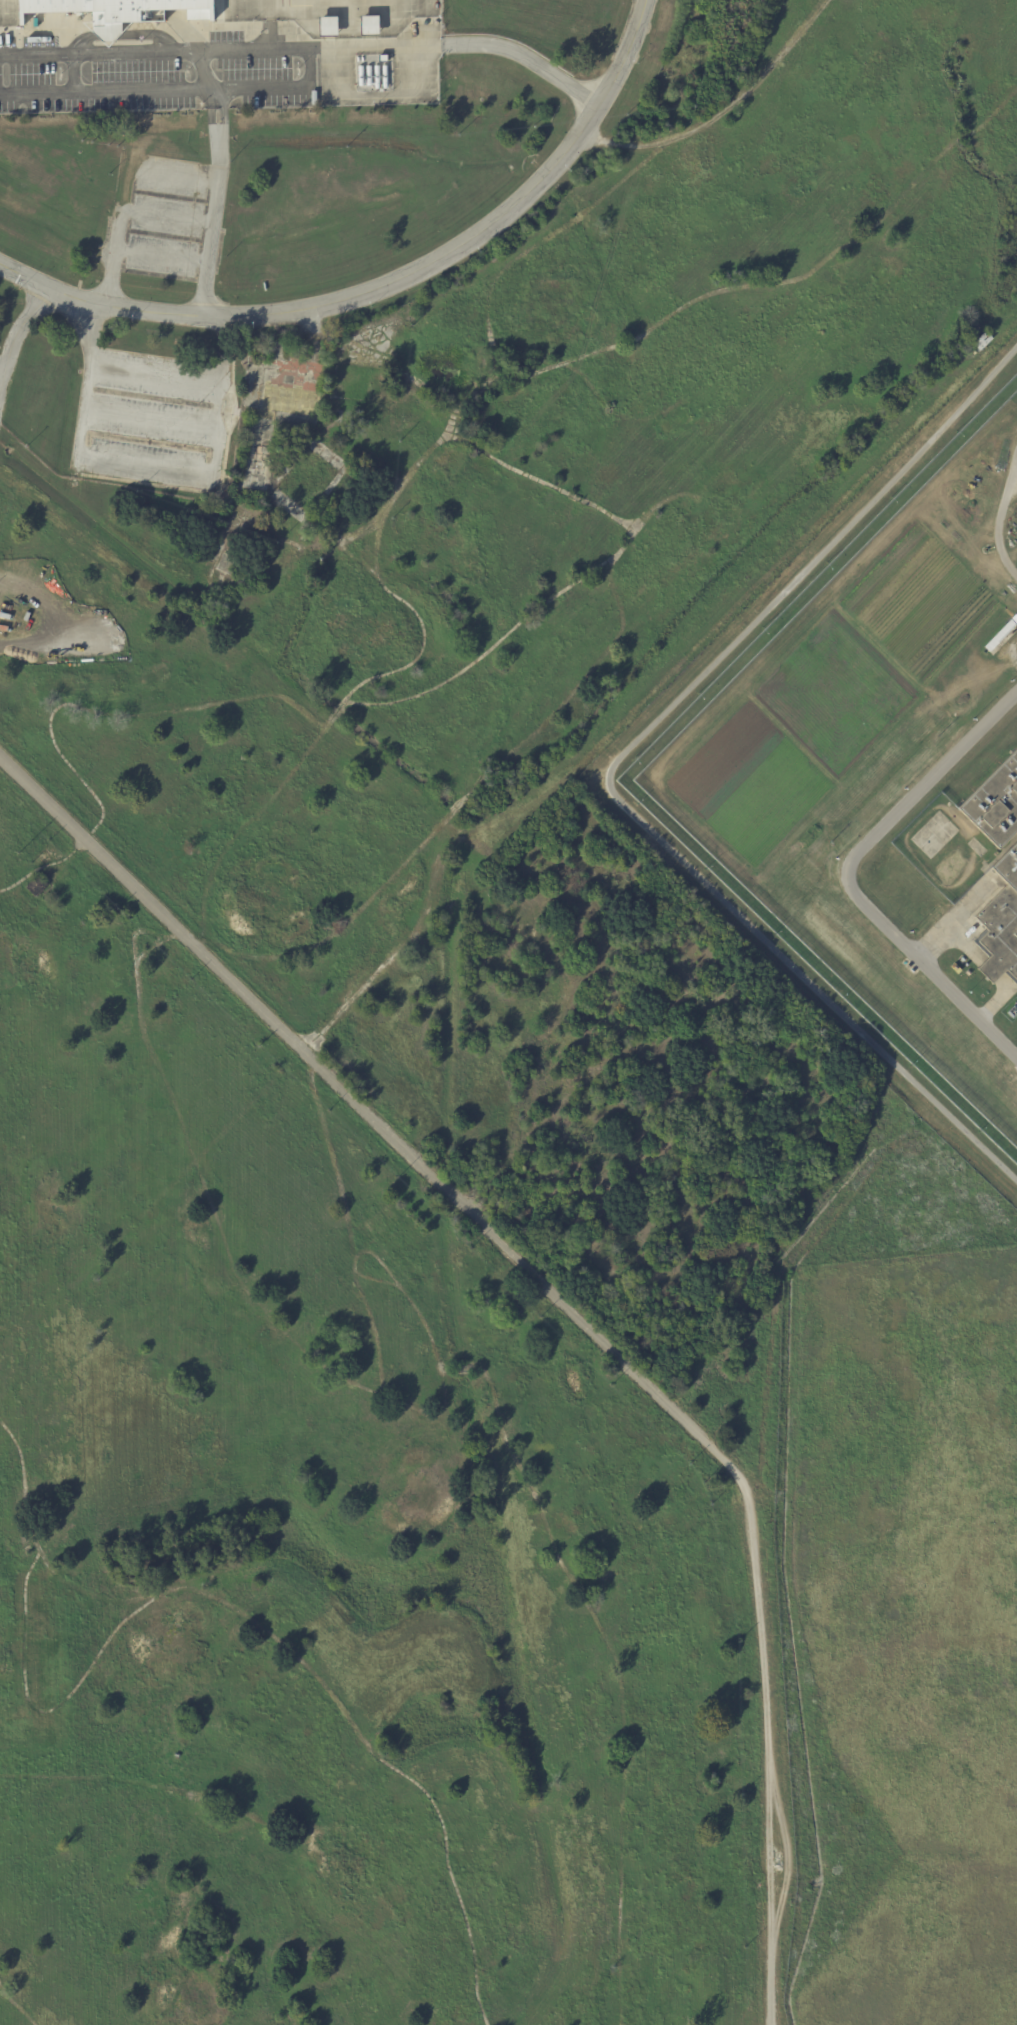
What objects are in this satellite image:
airport apron: (263, 10)
building: (116, 11)
airport apron: (7, 13)
building: (367, 26)
building: (325, 27)
road: (459, 47)
road: (99, 52)
road: (308, 59)
building: (381, 59)
road: (207, 70)
road: (107, 93)
road: (217, 202)
road: (124, 212)
road: (165, 255)
road: (384, 282)
road: (20, 327)
building: (981, 340)
road: (160, 373)
road: (2, 385)
parking lot: (154, 418)
road: (154, 419)
road: (147, 467)
road: (999, 515)
building: (1013, 615)
building: (1001, 637)
building: (242, 758)
road: (609, 769)
building: (995, 803)
road: (850, 870)
building: (35, 886)
building: (1001, 922)
airport: (471, 1037)
road: (569, 1303)
building: (30, 1549)
building: (176, 1755)

